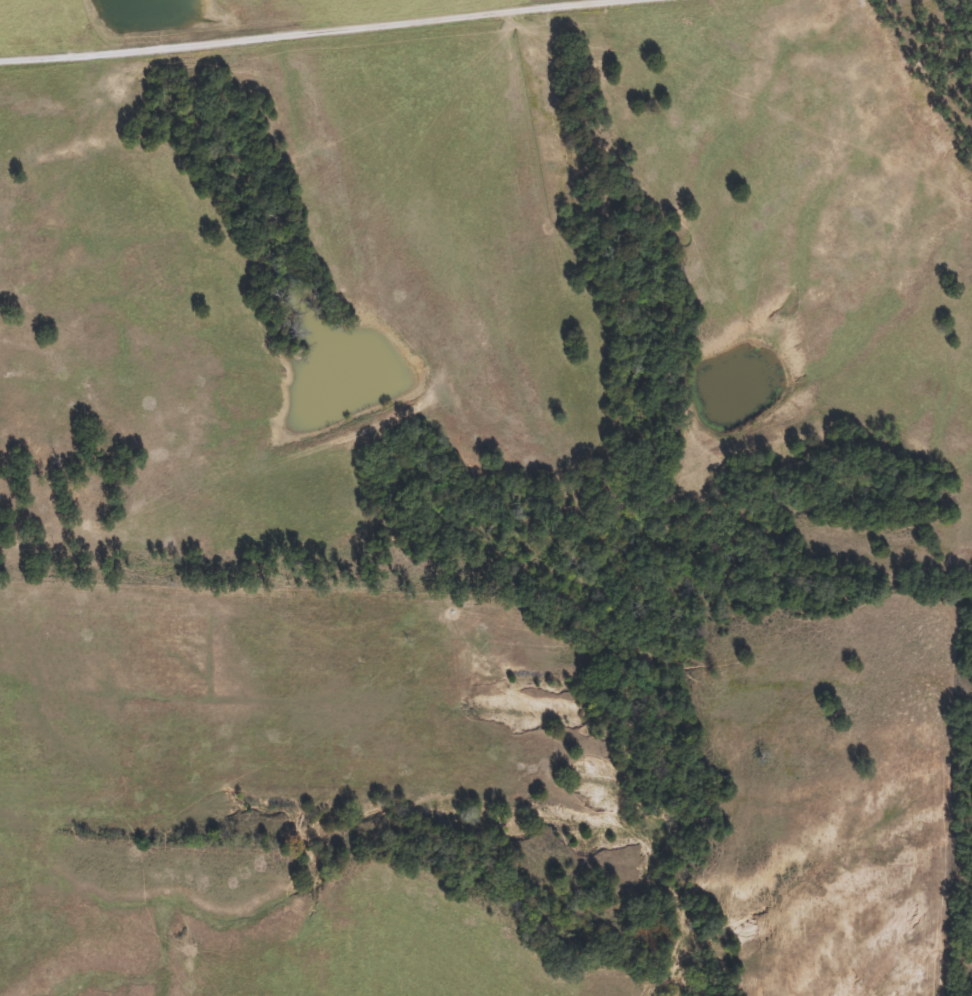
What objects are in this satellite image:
road: (601, 3)
road: (287, 35)

